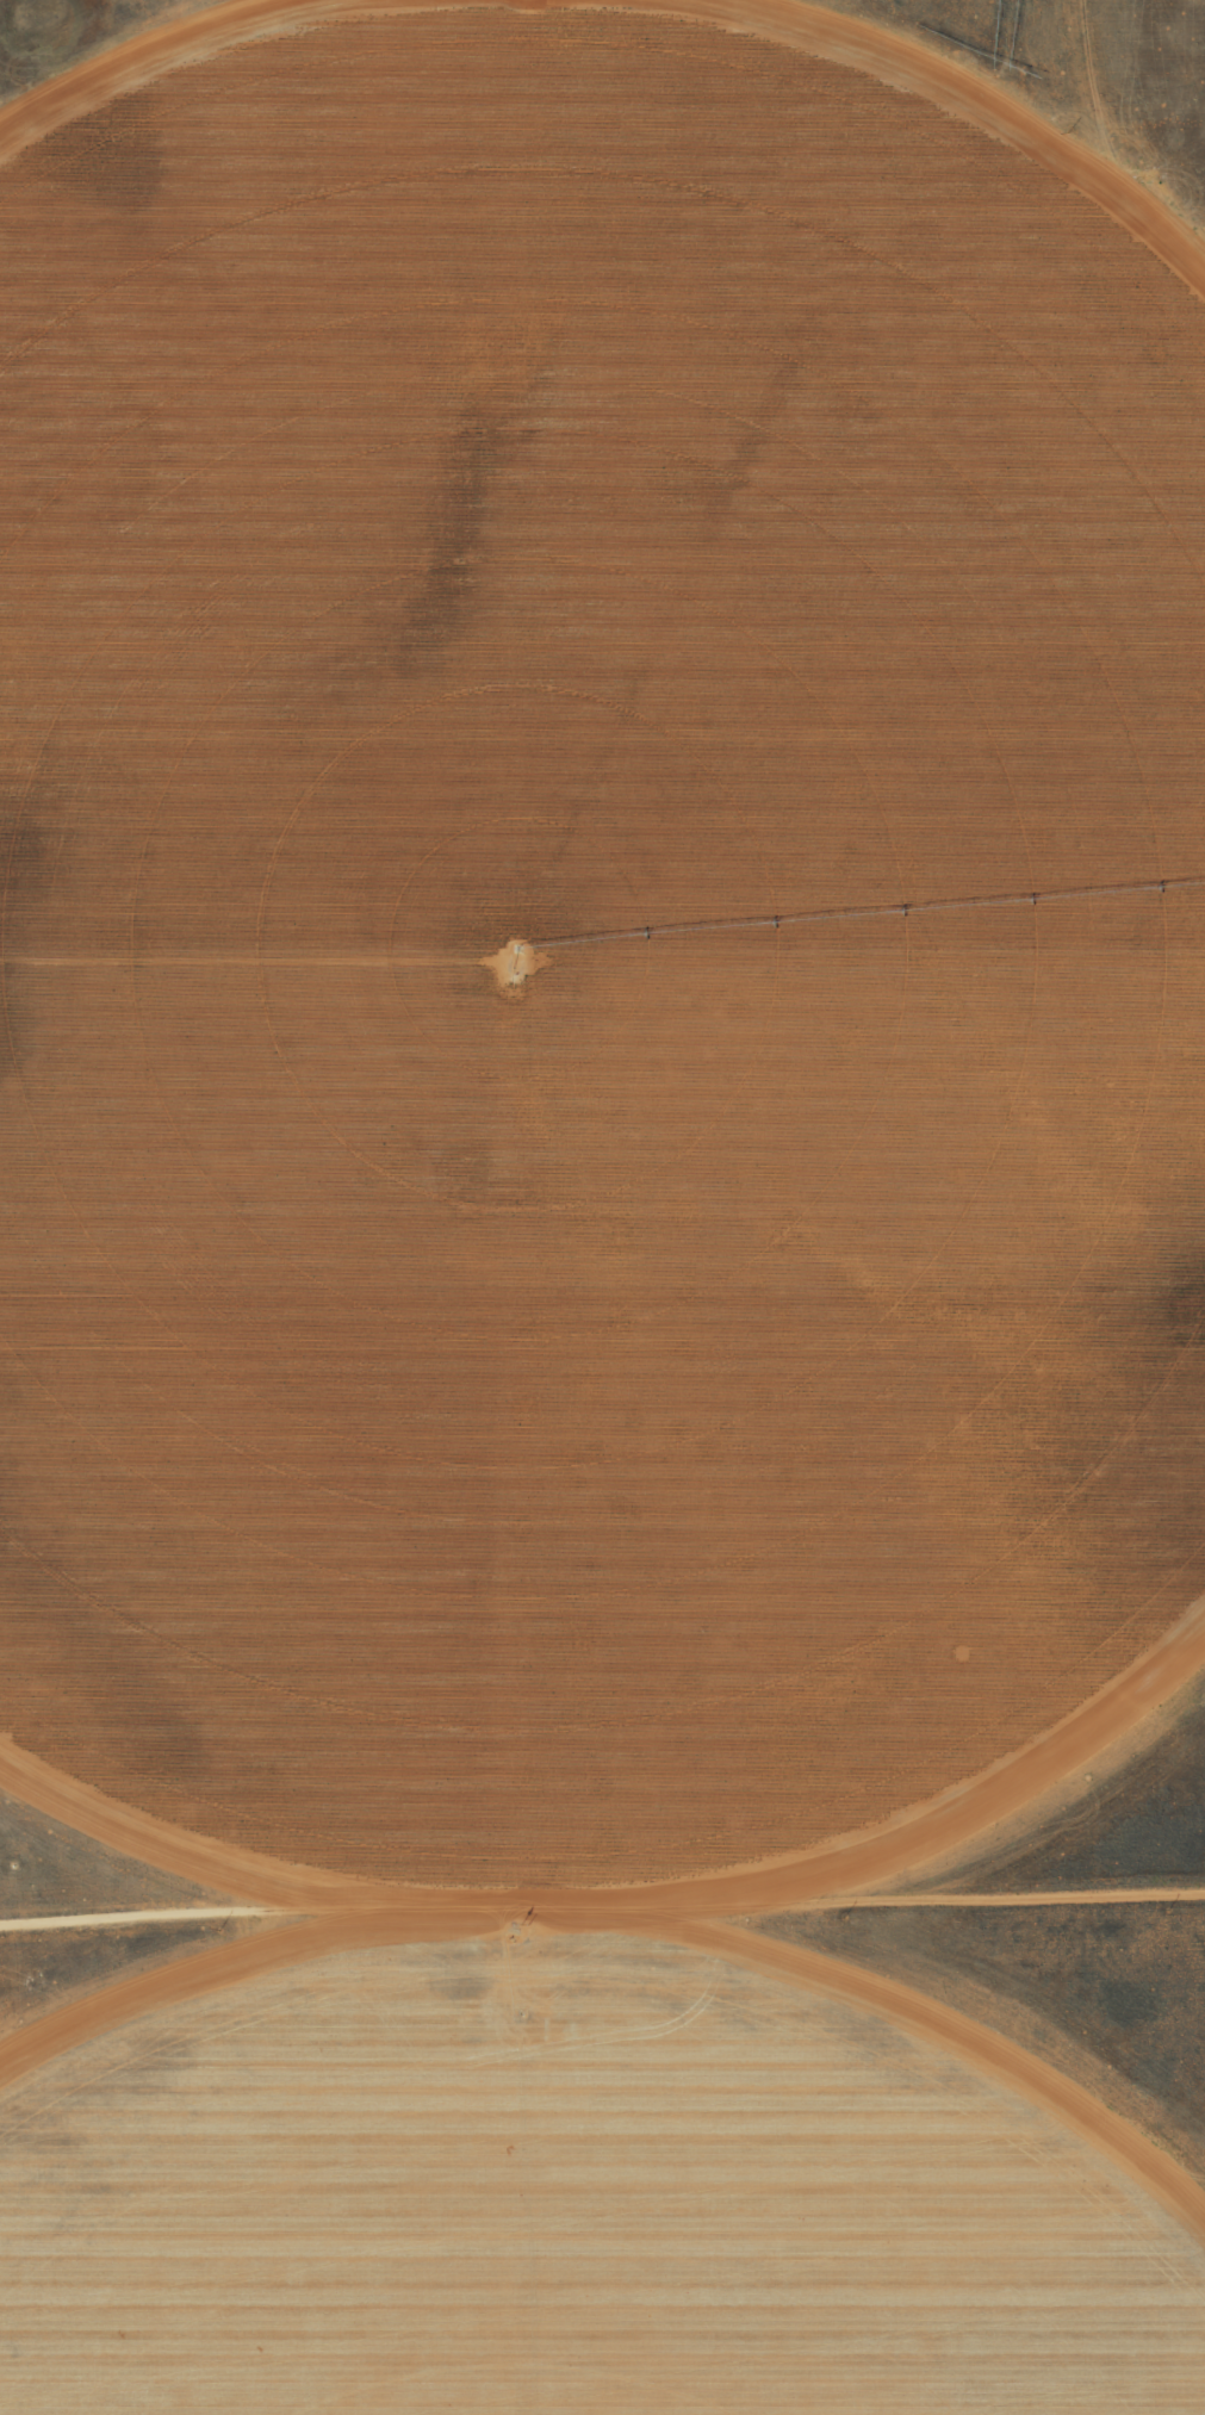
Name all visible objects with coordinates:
road: (602, 1893)

